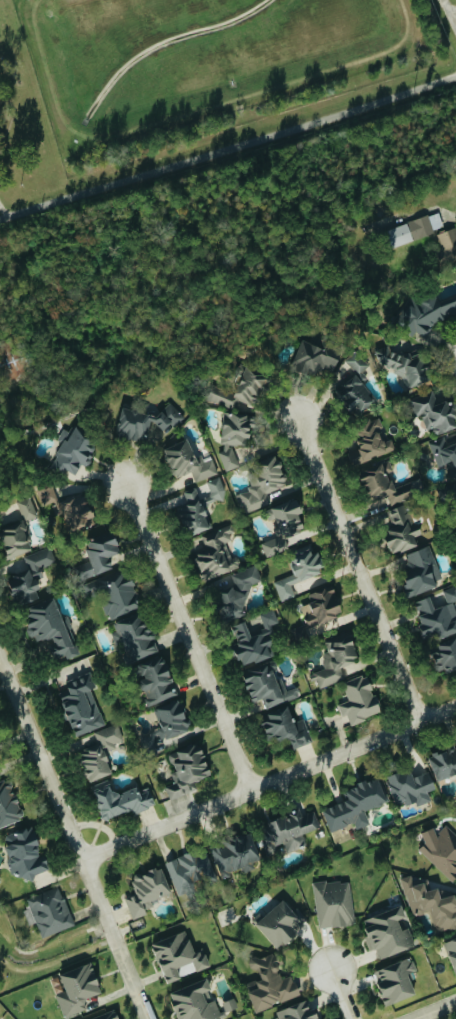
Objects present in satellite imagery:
road: (449, 16)
road: (227, 147)
road: (2, 211)
building: (414, 229)
building: (448, 239)
building: (427, 312)
building: (313, 360)
building: (404, 364)
building: (239, 390)
building: (354, 394)
building: (433, 412)
building: (233, 436)
building: (370, 441)
building: (73, 451)
building: (445, 454)
building: (187, 462)
building: (262, 484)
building: (384, 484)
building: (66, 507)
building: (199, 507)
building: (27, 508)
building: (282, 526)
building: (401, 530)
building: (455, 534)
building: (14, 539)
building: (101, 551)
building: (215, 554)
building: (87, 569)
road: (359, 570)
building: (298, 571)
building: (420, 571)
building: (29, 577)
building: (114, 594)
building: (236, 594)
building: (318, 610)
building: (437, 615)
building: (50, 629)
road: (189, 636)
building: (134, 637)
building: (254, 640)
building: (444, 657)
building: (335, 661)
building: (155, 681)
building: (267, 687)
building: (358, 700)
building: (81, 706)
building: (171, 719)
building: (286, 728)
building: (100, 753)
building: (443, 763)
road: (268, 783)
building: (410, 787)
building: (8, 804)
building: (354, 806)
building: (288, 830)
road: (73, 838)
building: (441, 850)
building: (24, 854)
building: (235, 855)
building: (147, 891)
building: (334, 904)
building: (430, 905)
building: (50, 912)
building: (279, 924)
building: (387, 933)
building: (451, 952)
building: (178, 957)
building: (395, 981)
building: (269, 983)
building: (77, 989)
road: (342, 993)
building: (194, 1002)
road: (433, 1009)
building: (296, 1012)
building: (108, 1016)

